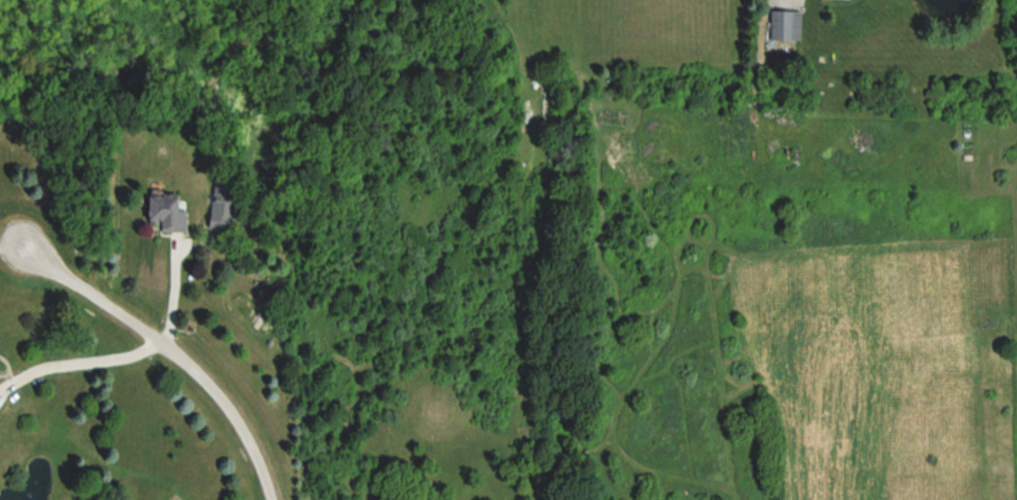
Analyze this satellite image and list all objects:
building: (784, 25)
building: (221, 207)
building: (167, 212)
road: (159, 345)
road: (73, 359)

